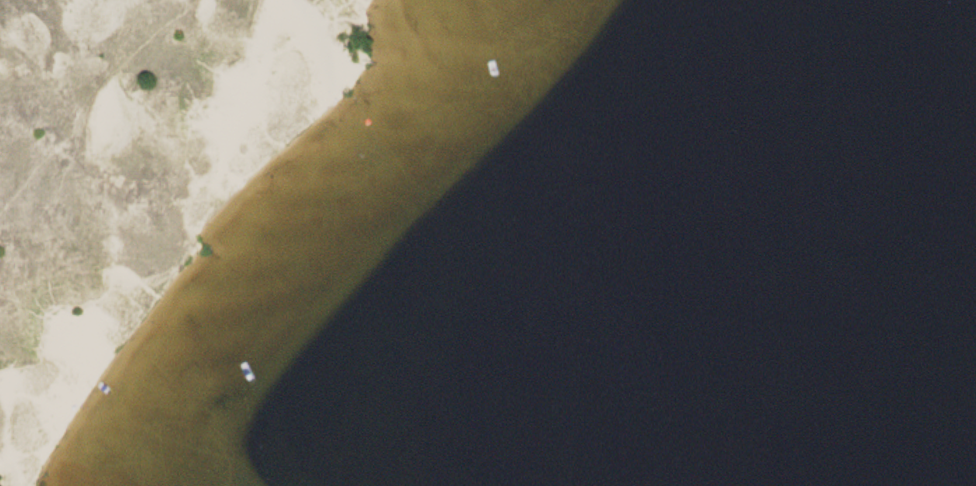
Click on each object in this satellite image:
park: (139, 172)

